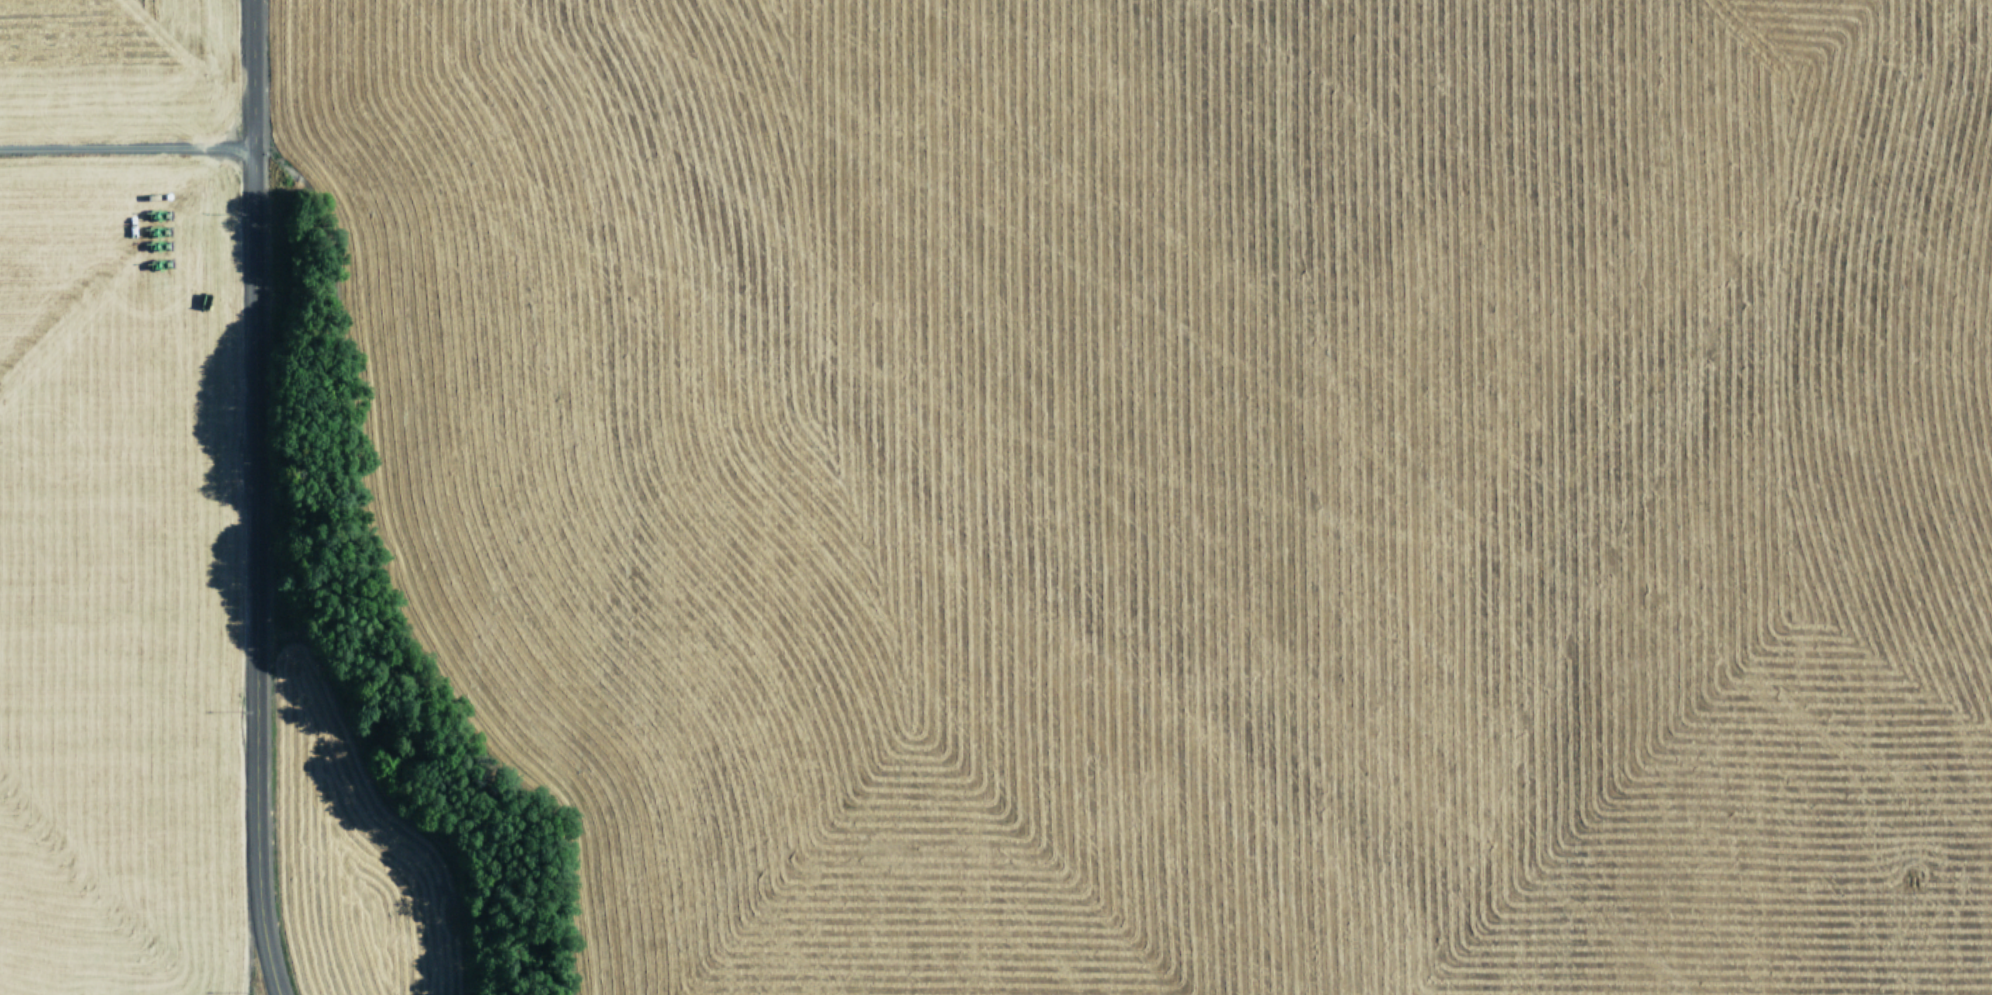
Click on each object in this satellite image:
road: (130, 150)
crop: (1145, 496)
road: (264, 497)
crop: (113, 498)

